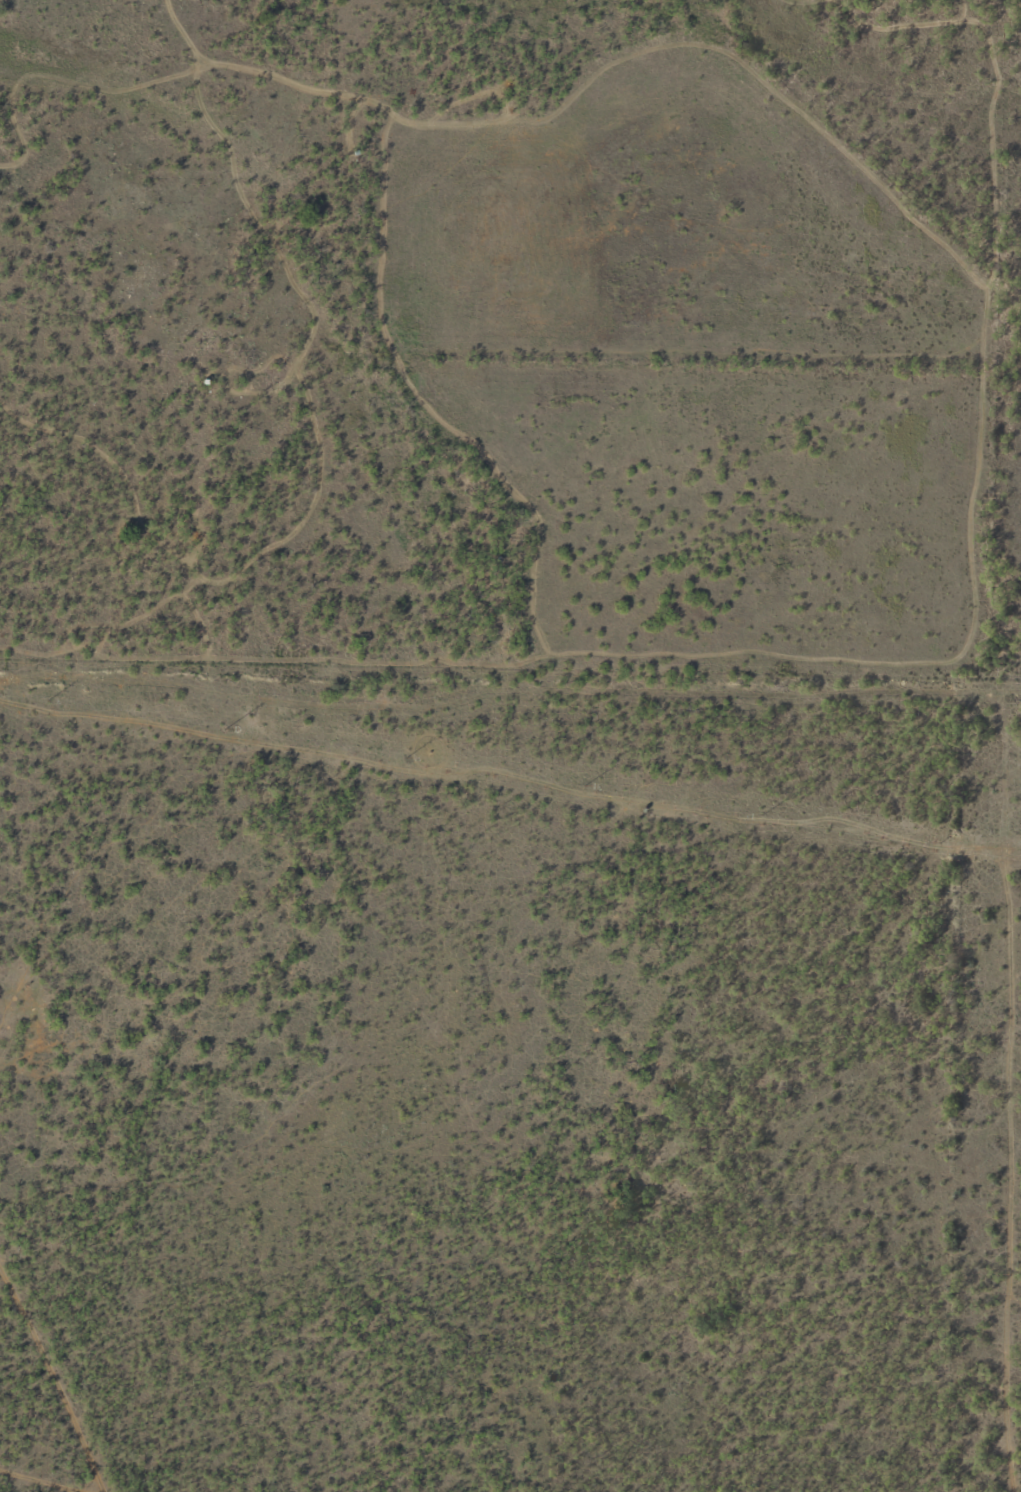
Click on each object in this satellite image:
road: (59, 1357)

